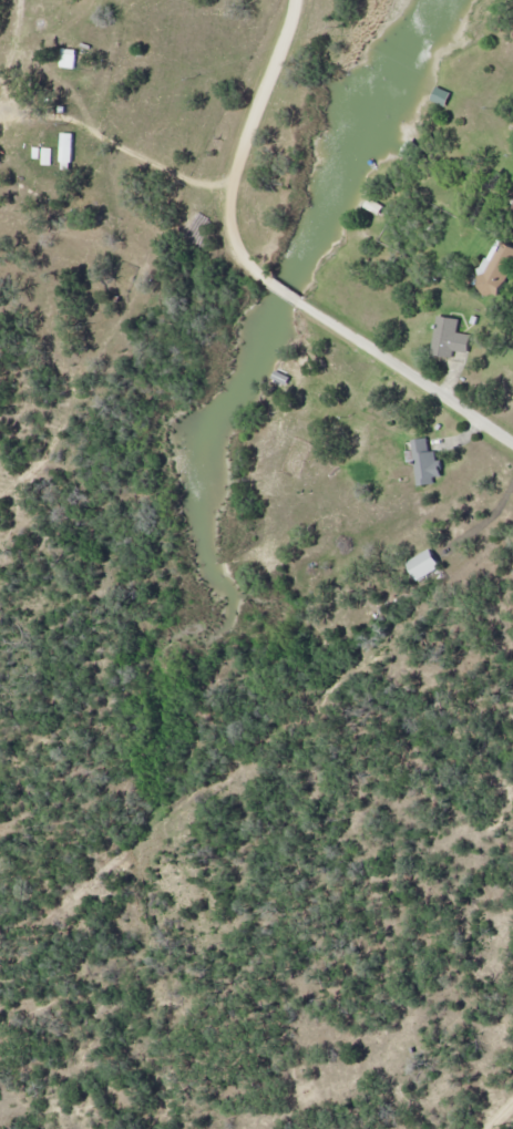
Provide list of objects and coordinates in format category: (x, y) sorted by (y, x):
road: (12, 30)
building: (440, 100)
building: (63, 111)
road: (248, 146)
building: (66, 153)
building: (37, 154)
building: (48, 158)
road: (172, 173)
building: (375, 209)
building: (496, 273)
road: (285, 294)
building: (451, 339)
road: (406, 373)
building: (429, 460)
building: (425, 566)
road: (502, 1117)

